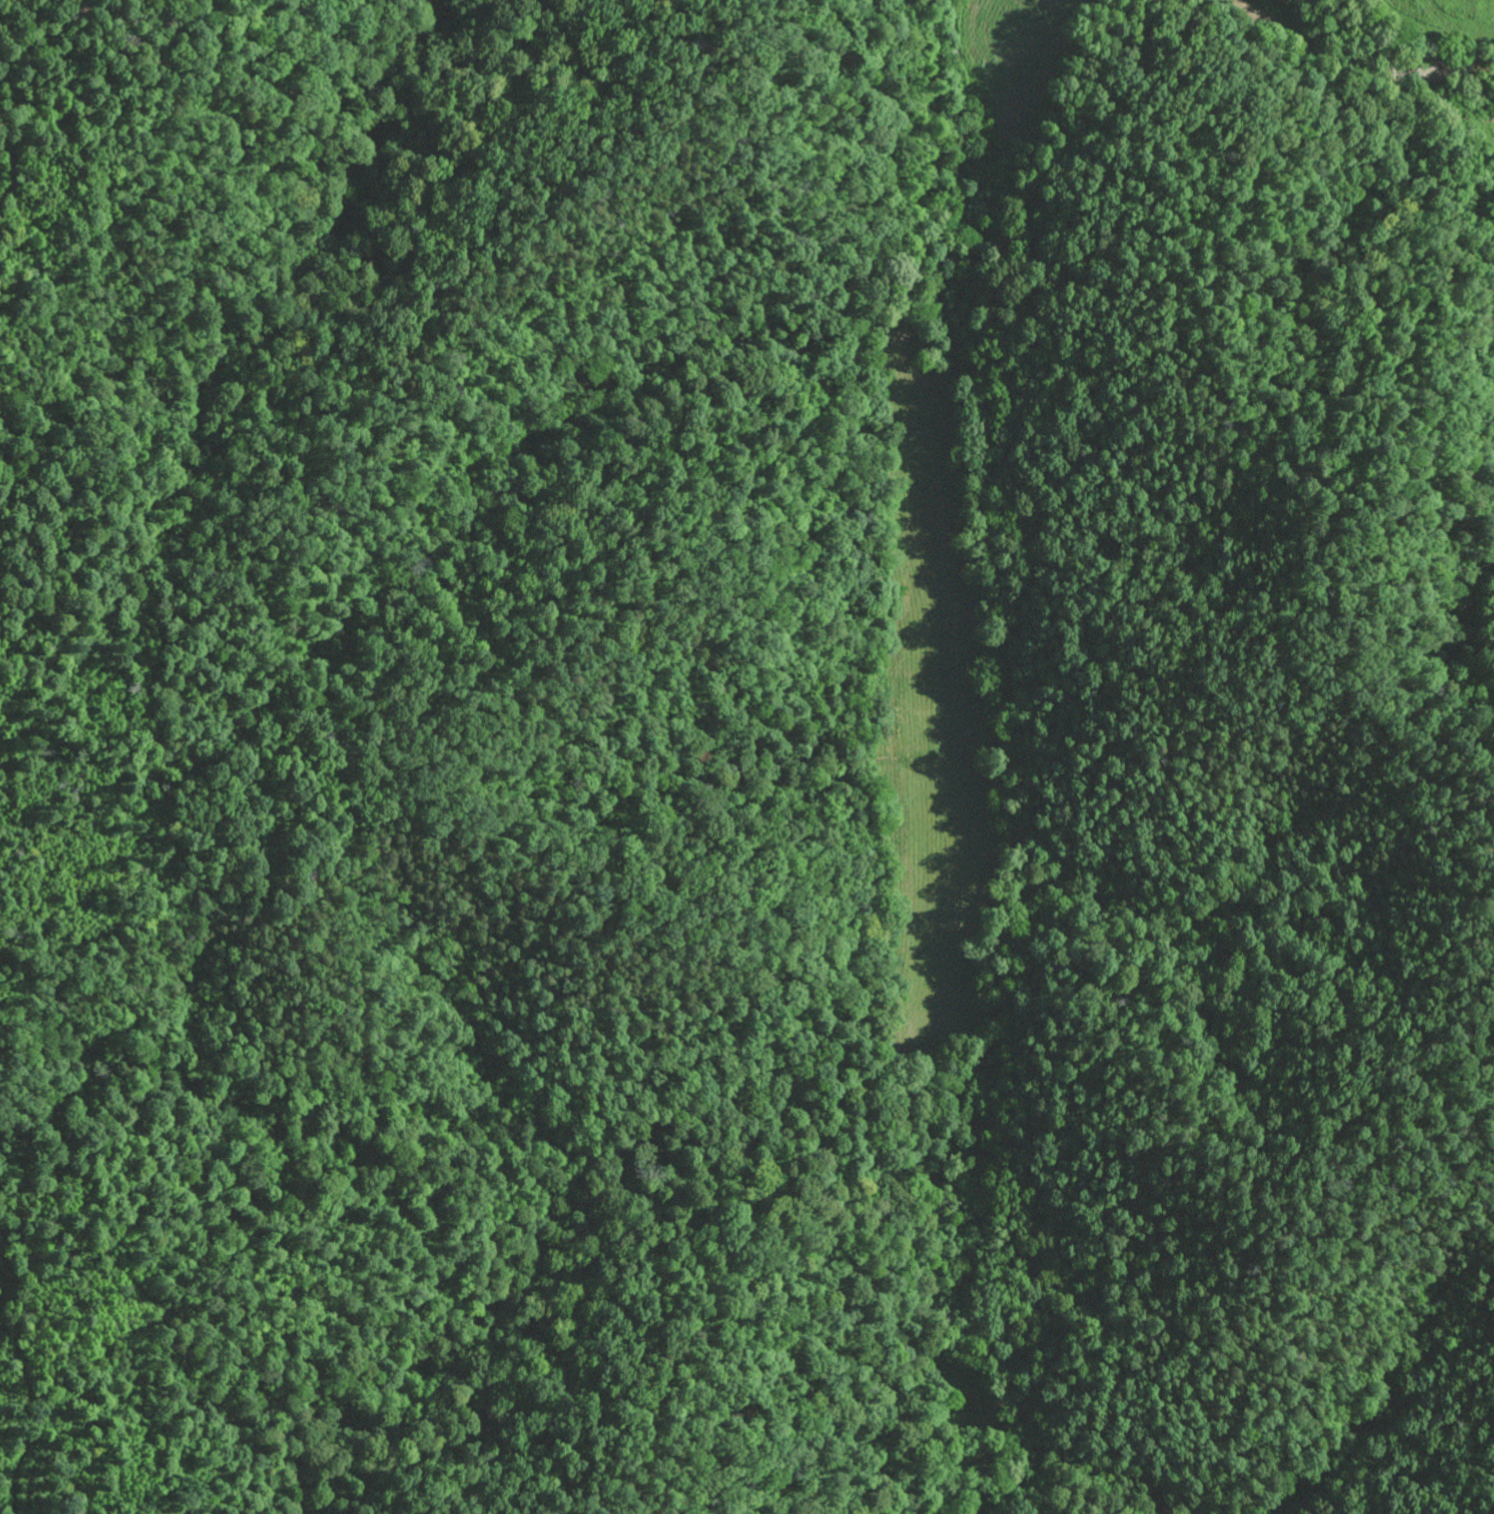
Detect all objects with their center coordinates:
road: (1463, 13)

